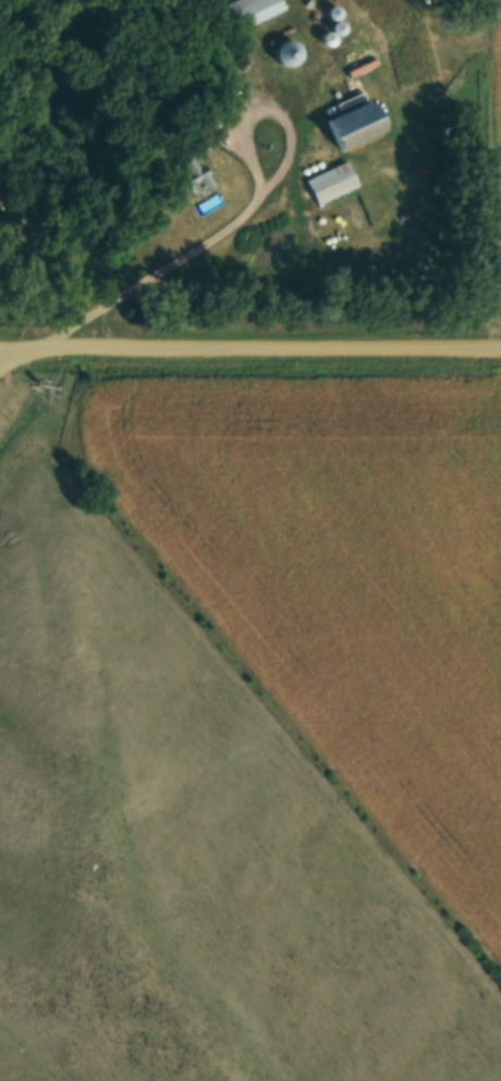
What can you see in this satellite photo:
building: (255, 9)
building: (355, 40)
building: (284, 52)
building: (350, 124)
building: (192, 173)
building: (329, 182)
road: (236, 220)
road: (249, 348)
road: (28, 363)

